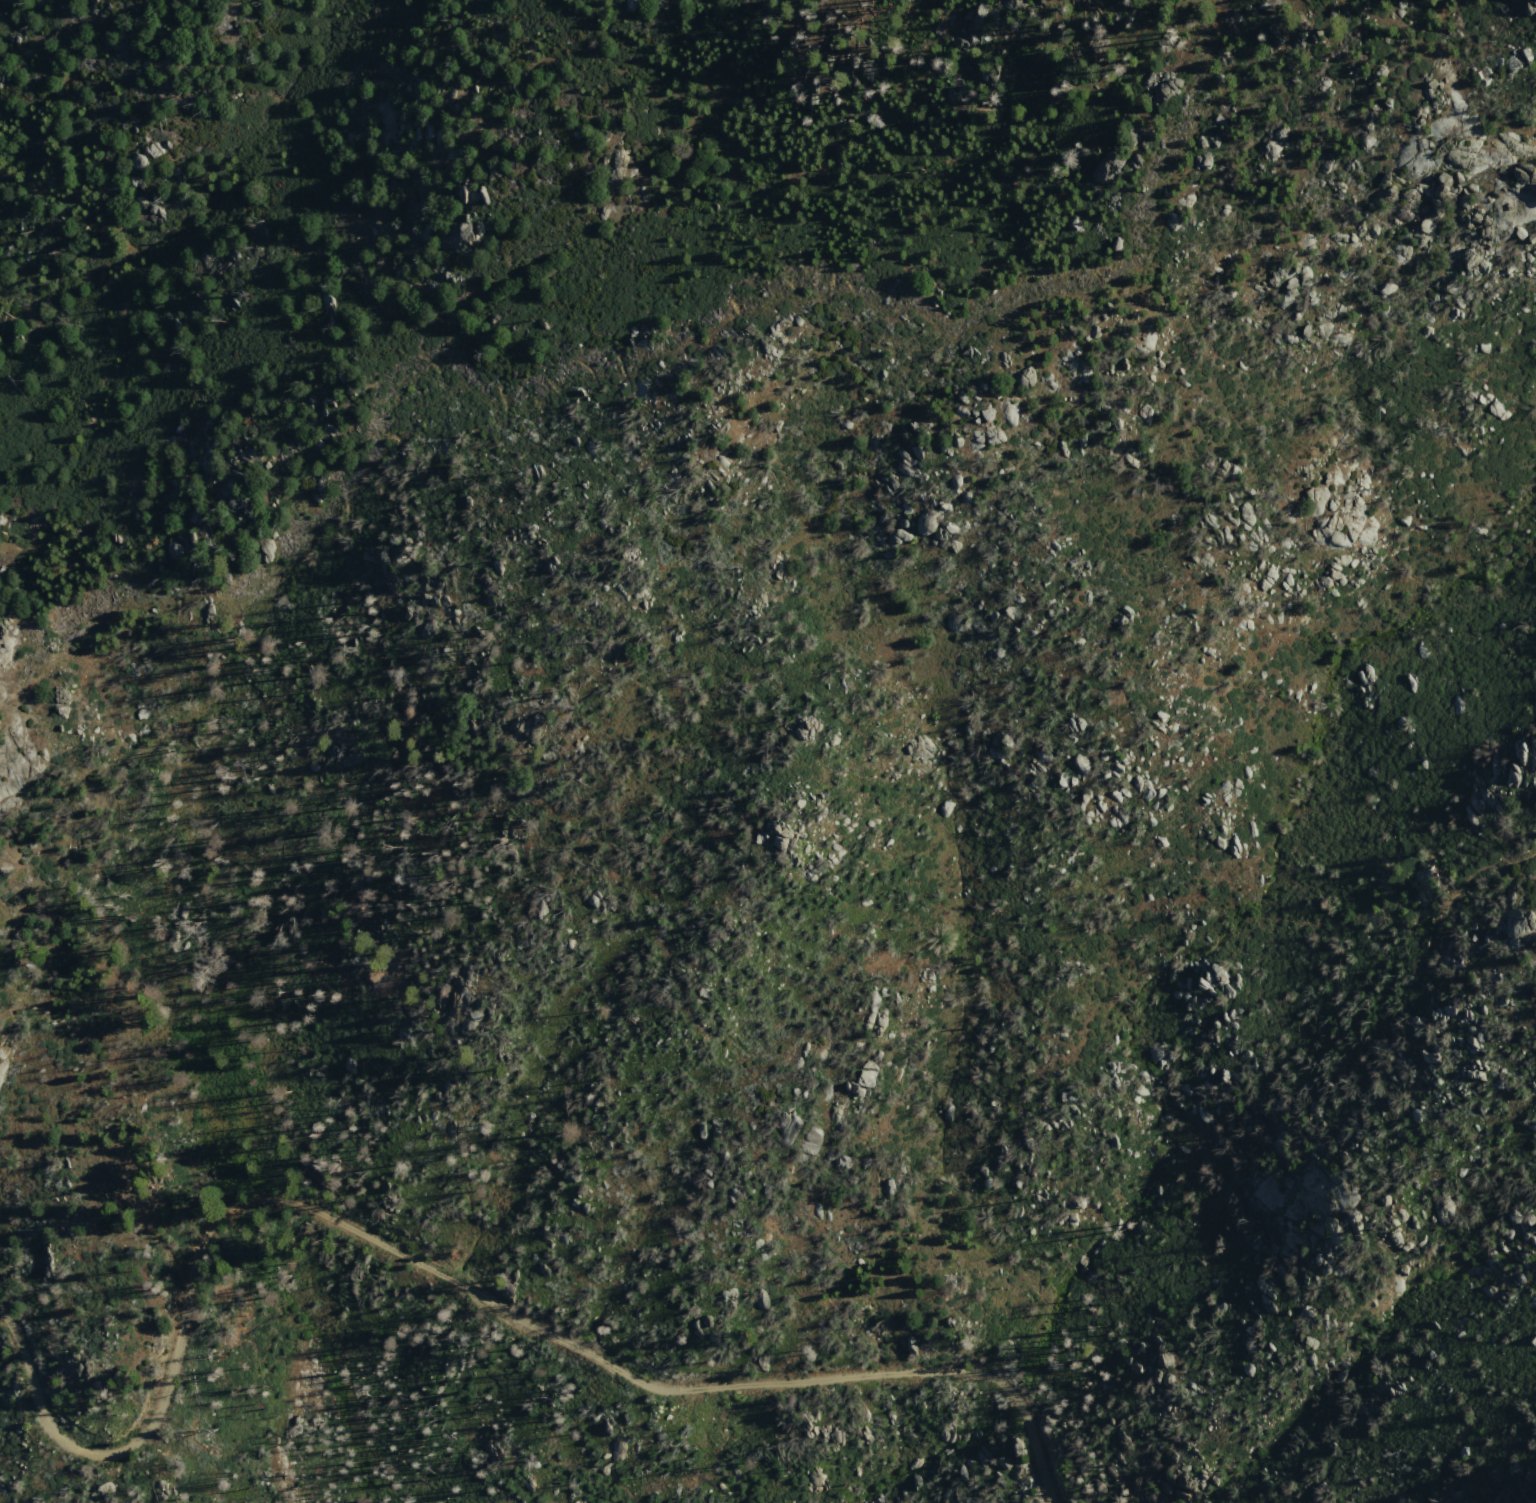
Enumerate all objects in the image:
road: (118, 345)
road: (121, 1099)
road: (453, 1284)

